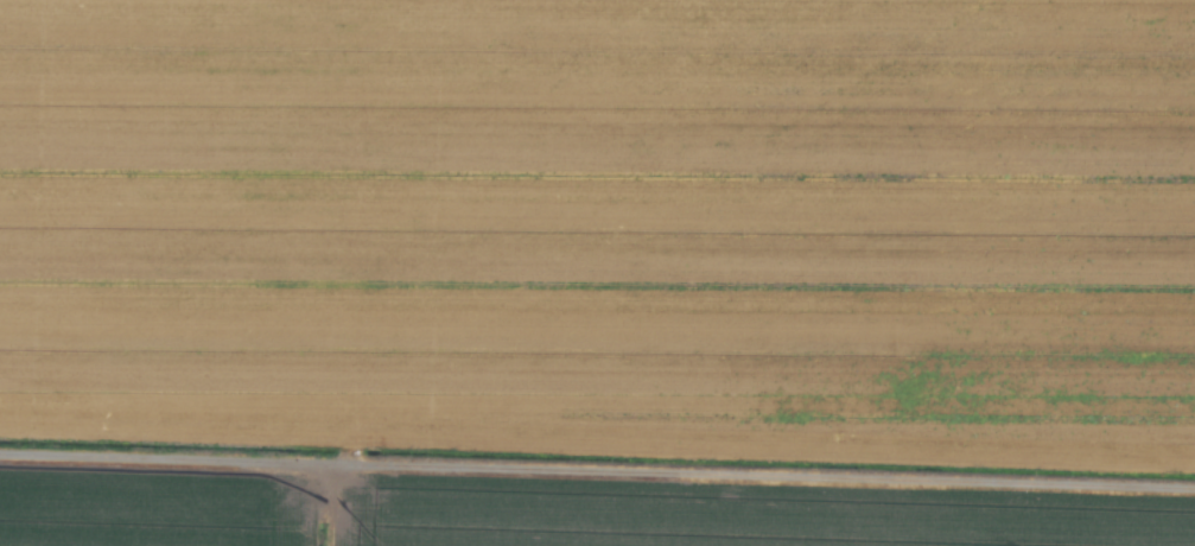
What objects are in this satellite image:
crop: (597, 273)
road: (597, 476)

